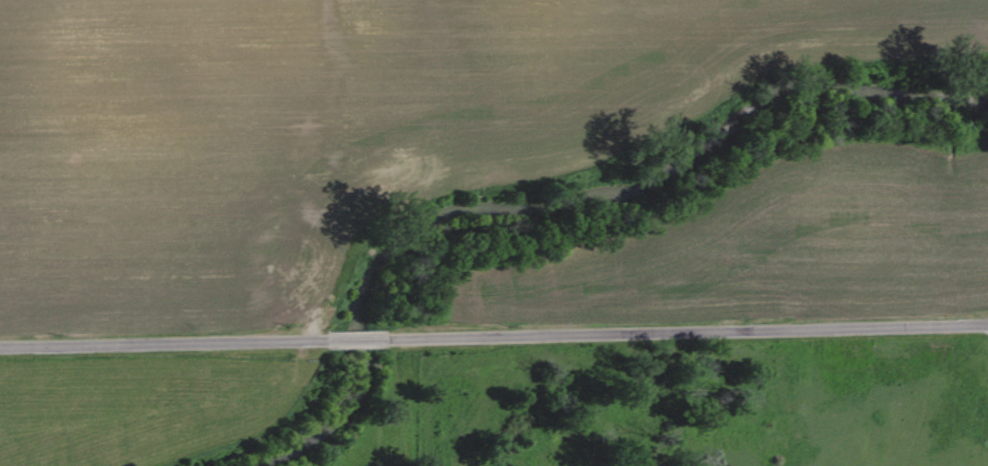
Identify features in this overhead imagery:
road: (692, 337)
road: (367, 345)
road: (169, 347)

